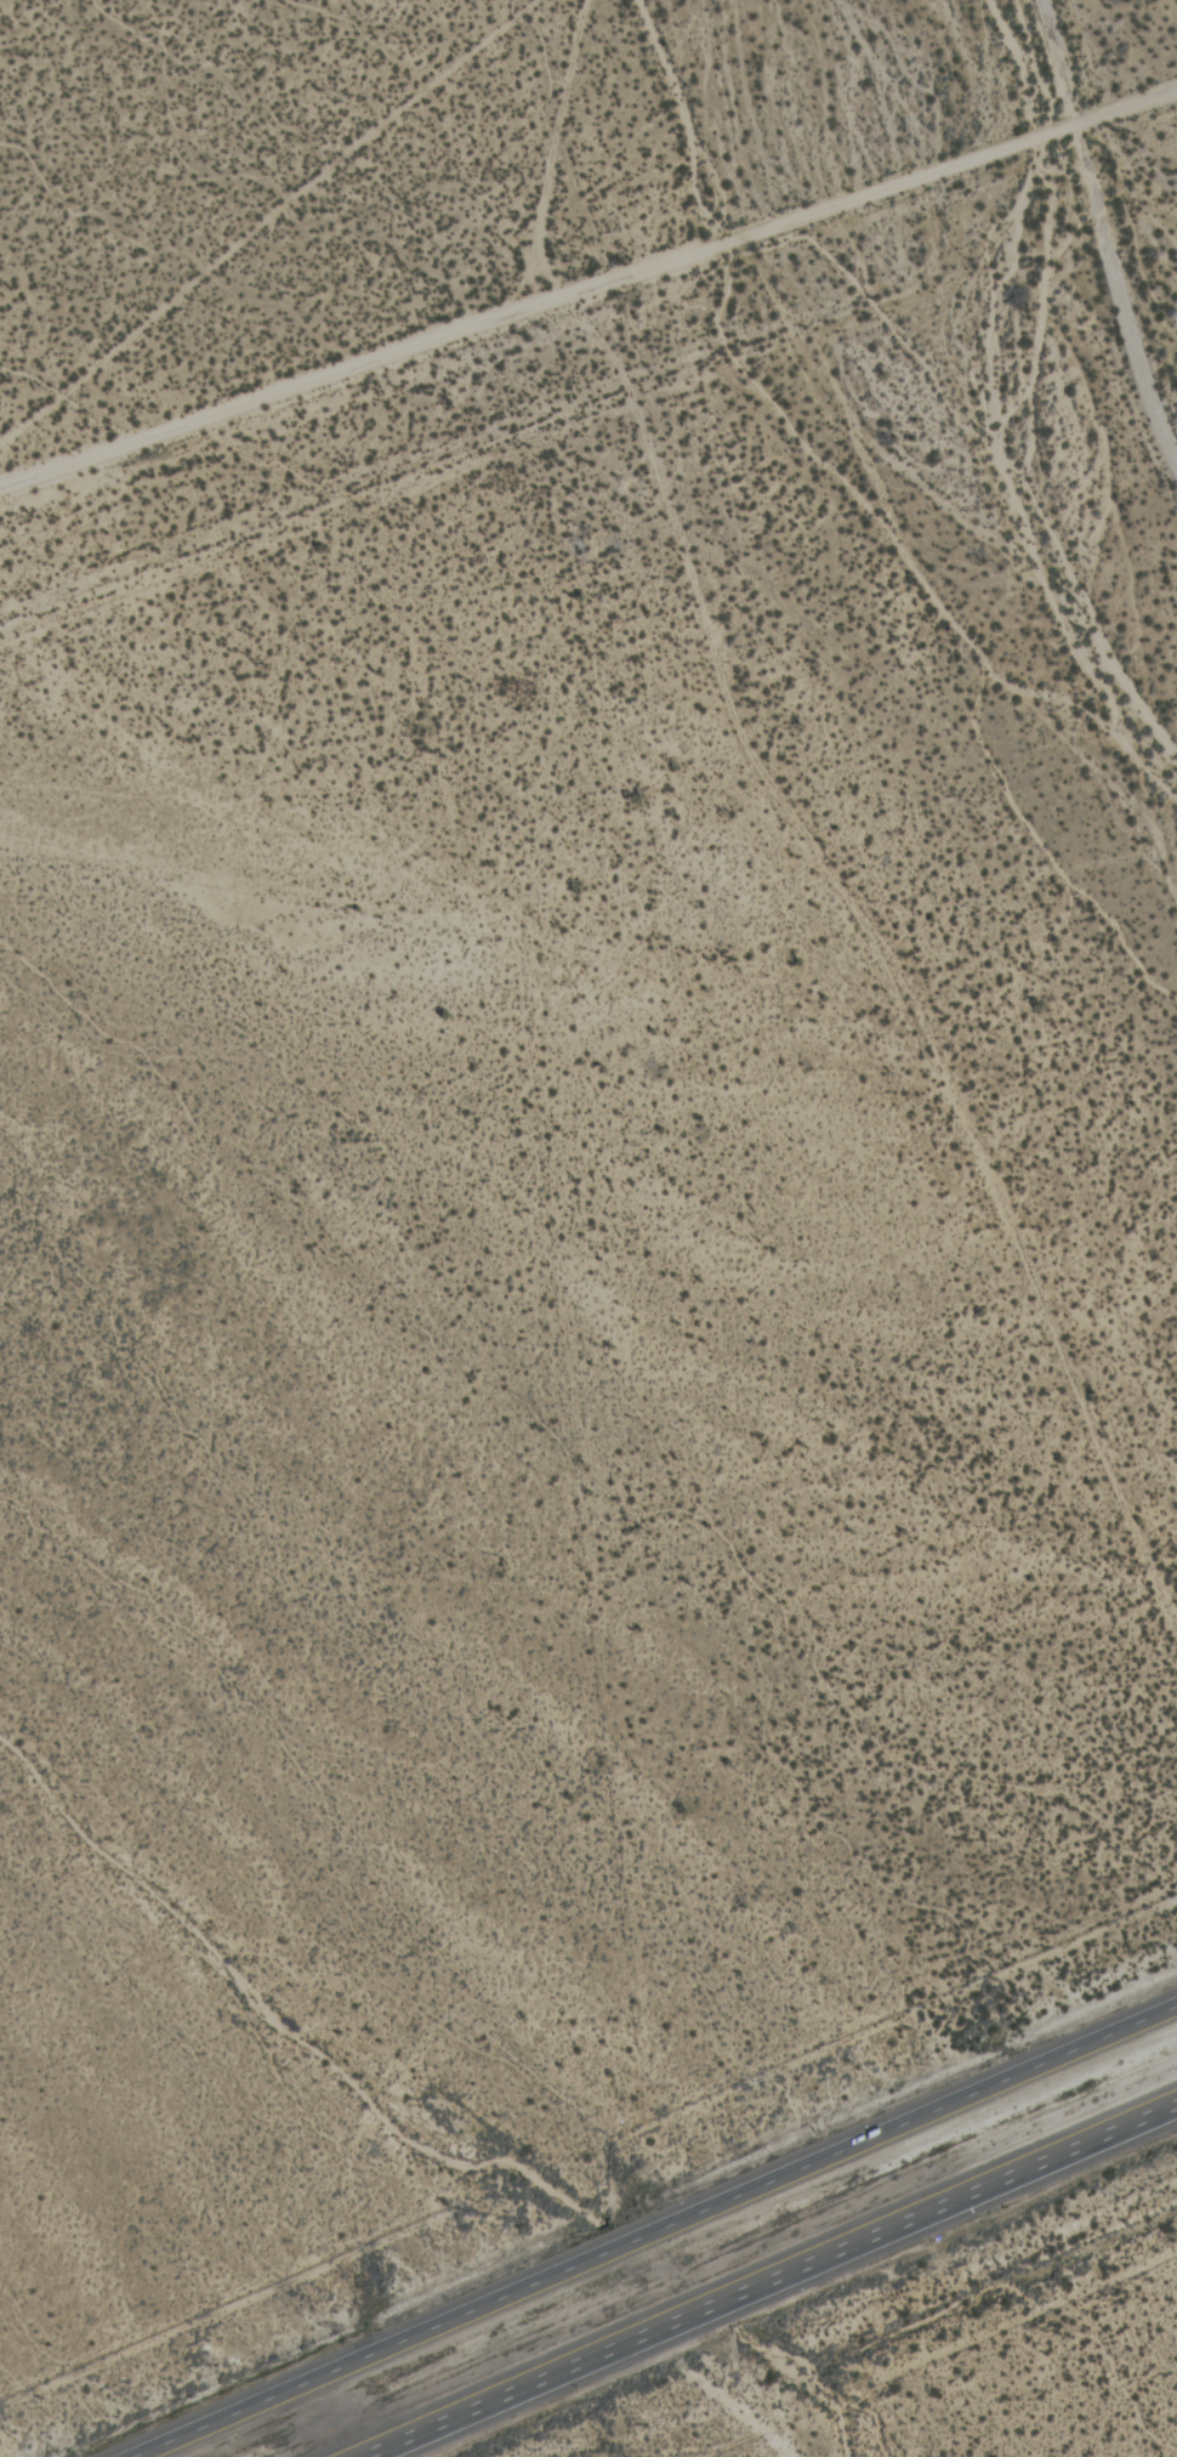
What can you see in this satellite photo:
road: (587, 286)
road: (1084, 294)
road: (654, 2230)
railway: (713, 2255)
road: (767, 2277)

